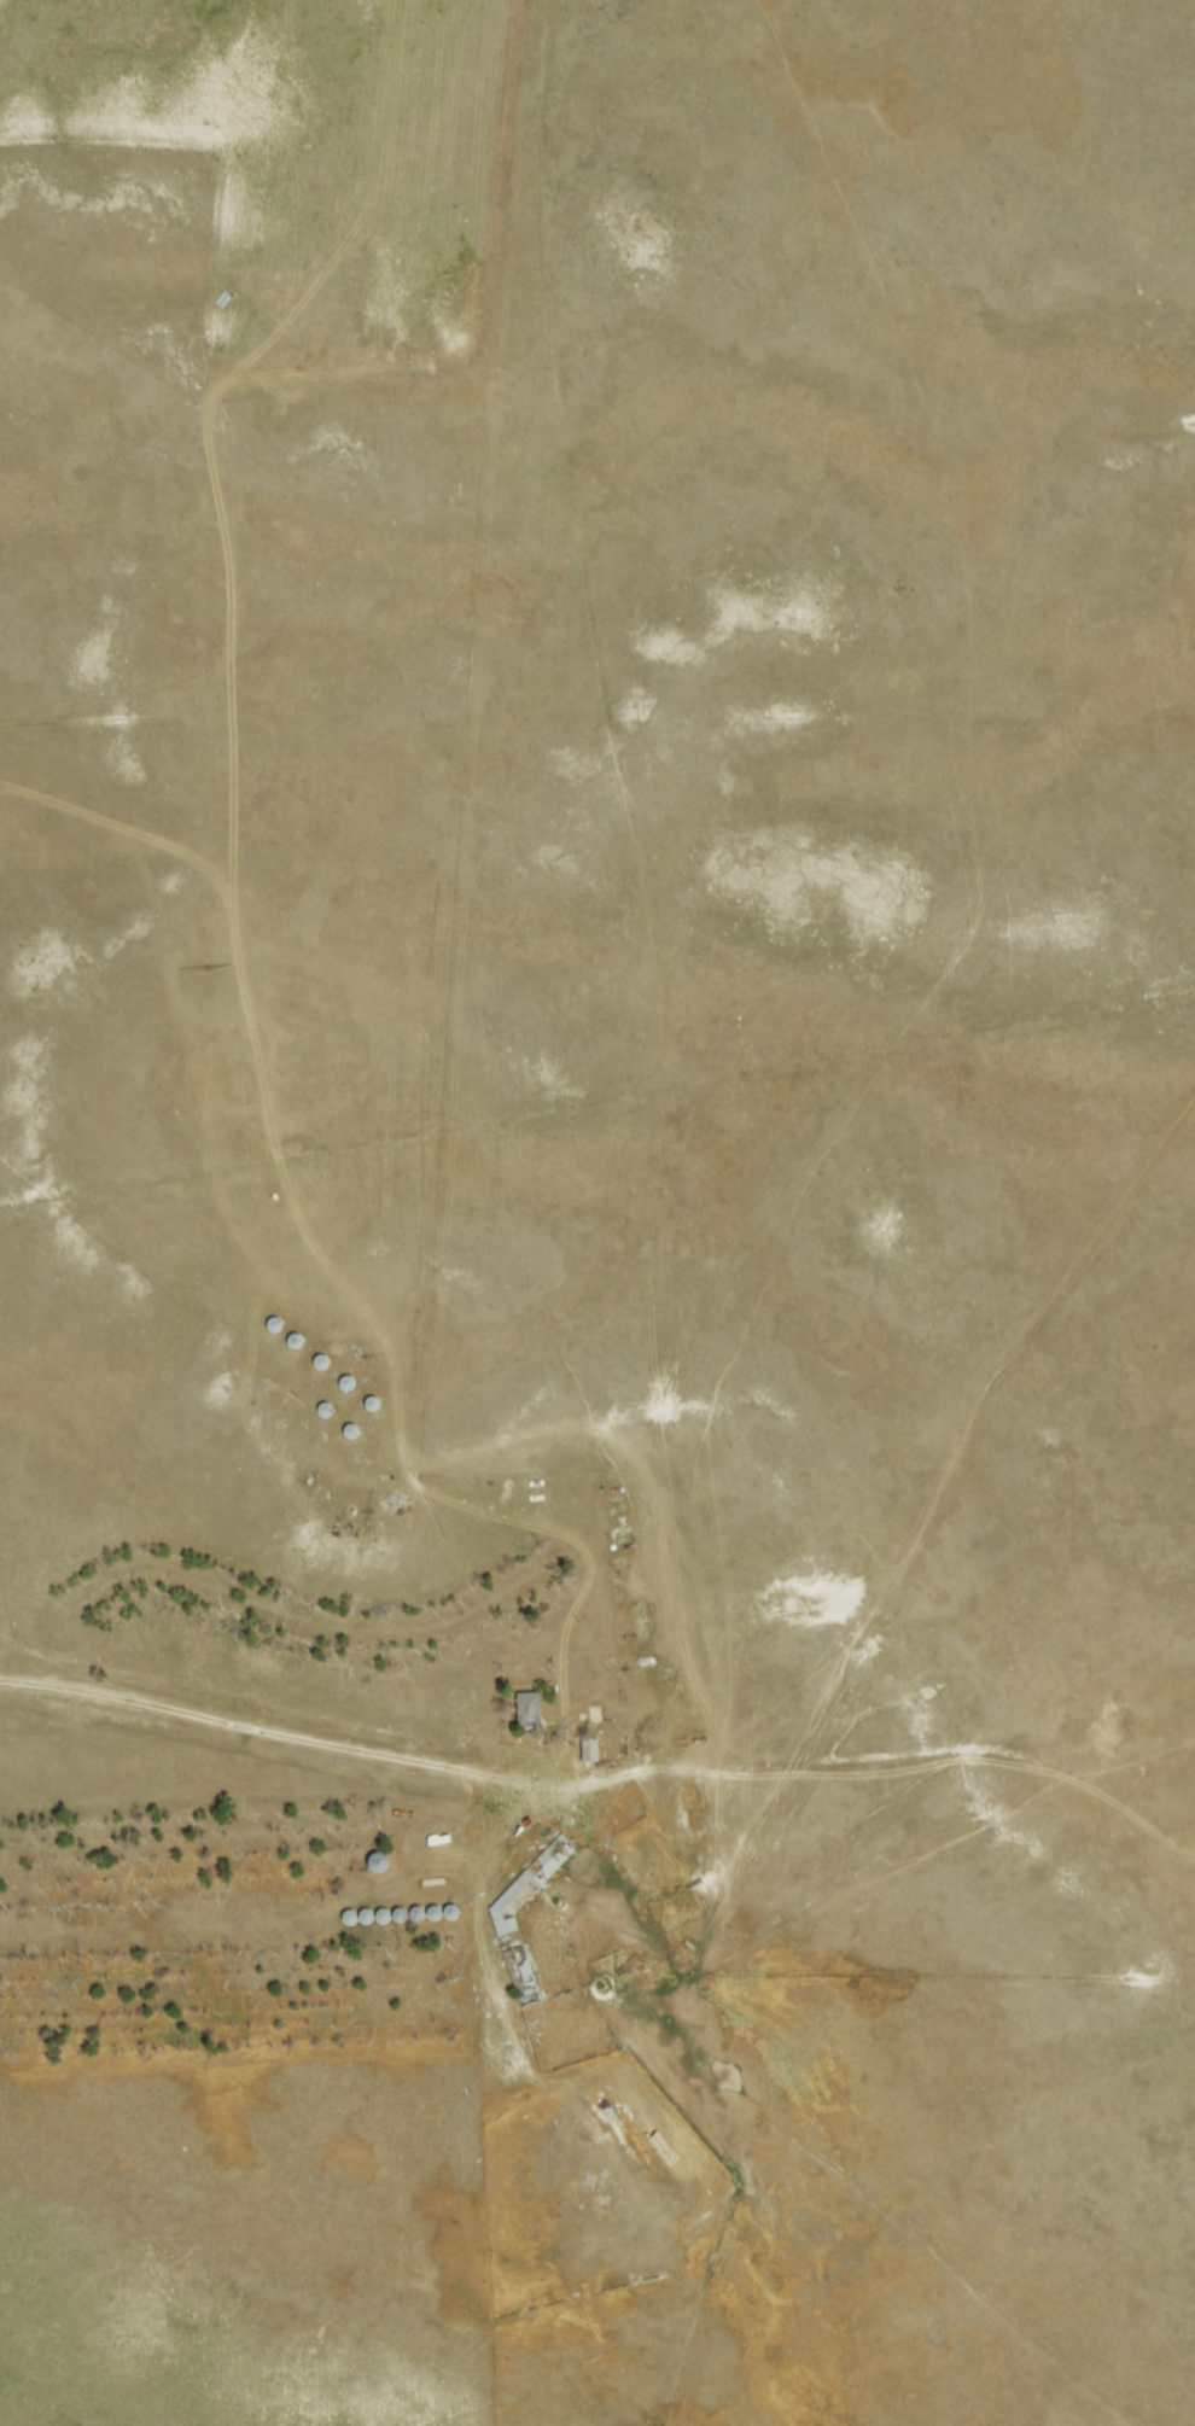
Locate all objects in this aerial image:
building: (284, 1329)
silo: (284, 1329)
building: (302, 1346)
silo: (302, 1346)
building: (331, 1366)
silo: (331, 1366)
building: (356, 1388)
silo: (356, 1388)
building: (384, 1410)
silo: (384, 1410)
building: (333, 1411)
silo: (333, 1411)
building: (358, 1435)
silo: (358, 1435)
building: (530, 1711)
road: (320, 1745)
building: (597, 1751)
building: (377, 1861)
building: (387, 1867)
silo: (387, 1867)
building: (459, 1917)
silo: (459, 1917)
building: (426, 1918)
silo: (426, 1918)
building: (443, 1918)
silo: (443, 1918)
building: (409, 1919)
silo: (409, 1919)
building: (392, 1920)
silo: (392, 1920)
building: (356, 1921)
silo: (356, 1921)
building: (373, 1921)
silo: (373, 1921)
building: (524, 1961)

